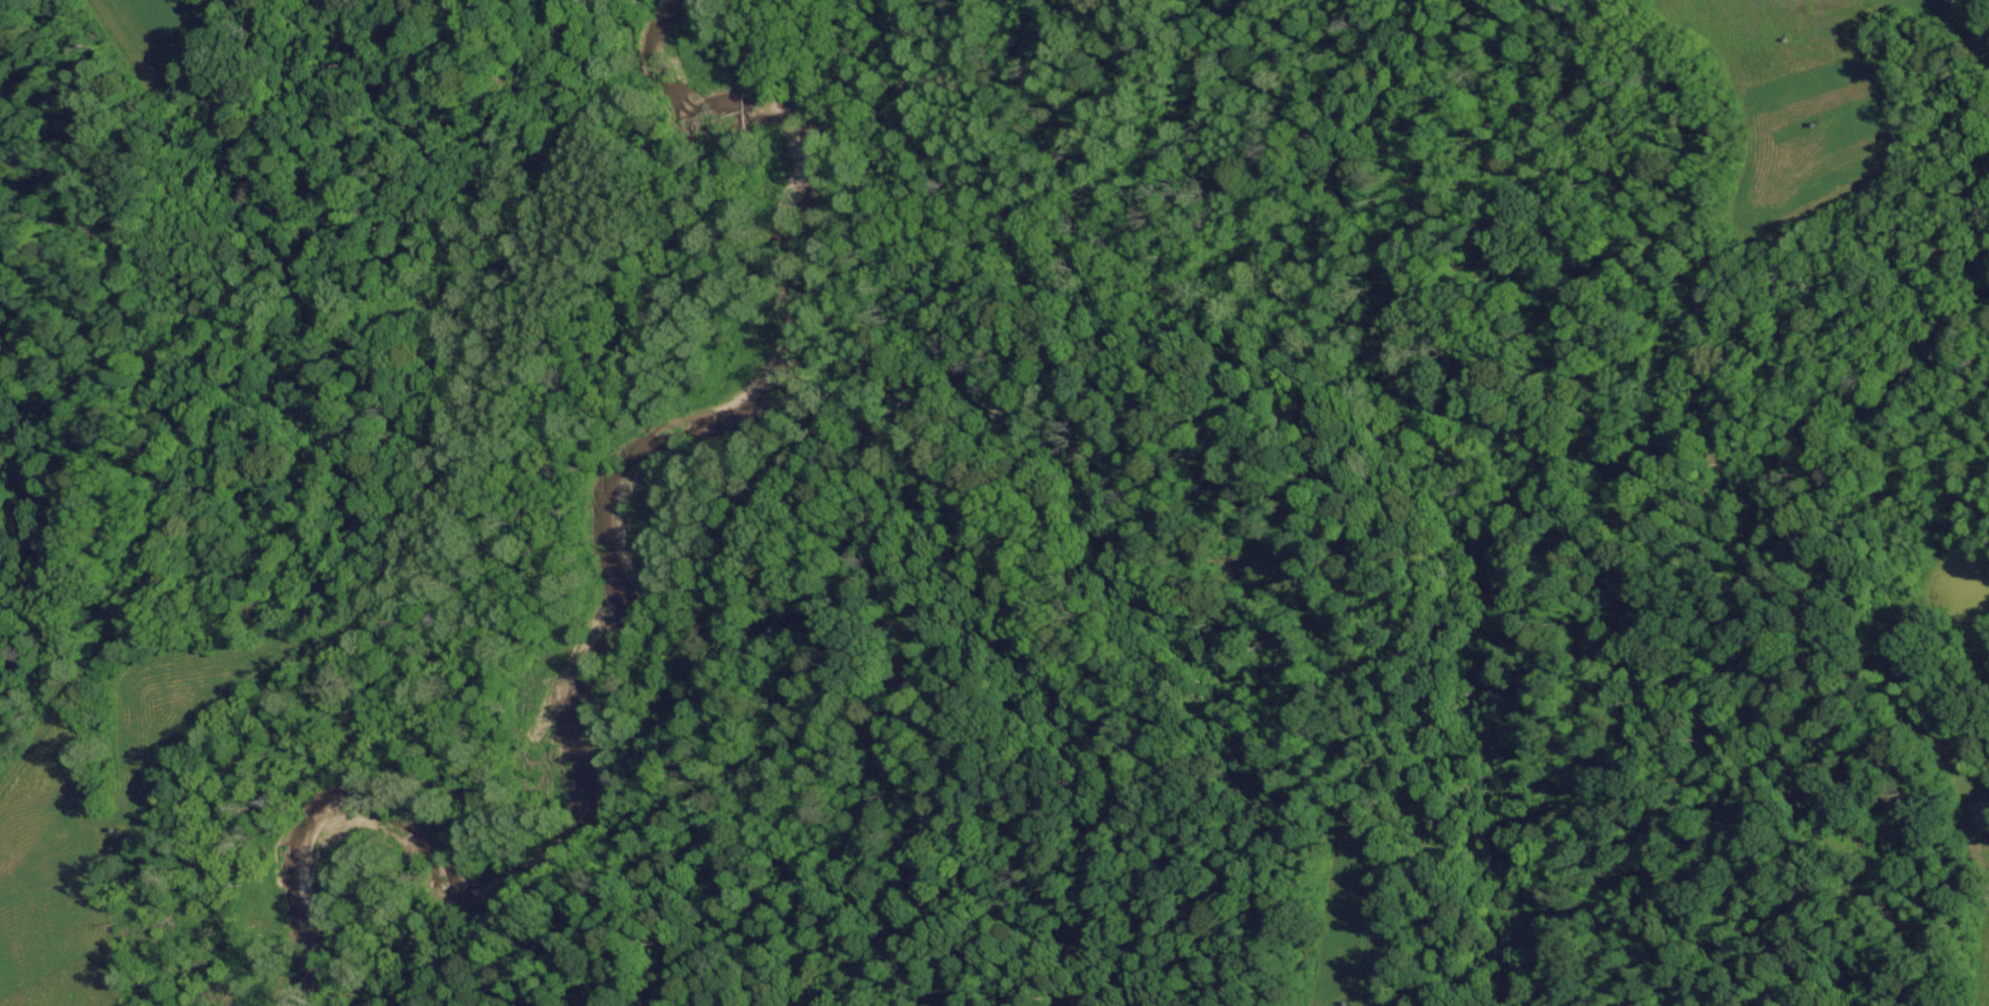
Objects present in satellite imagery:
road: (1969, 17)
building: (1982, 813)

